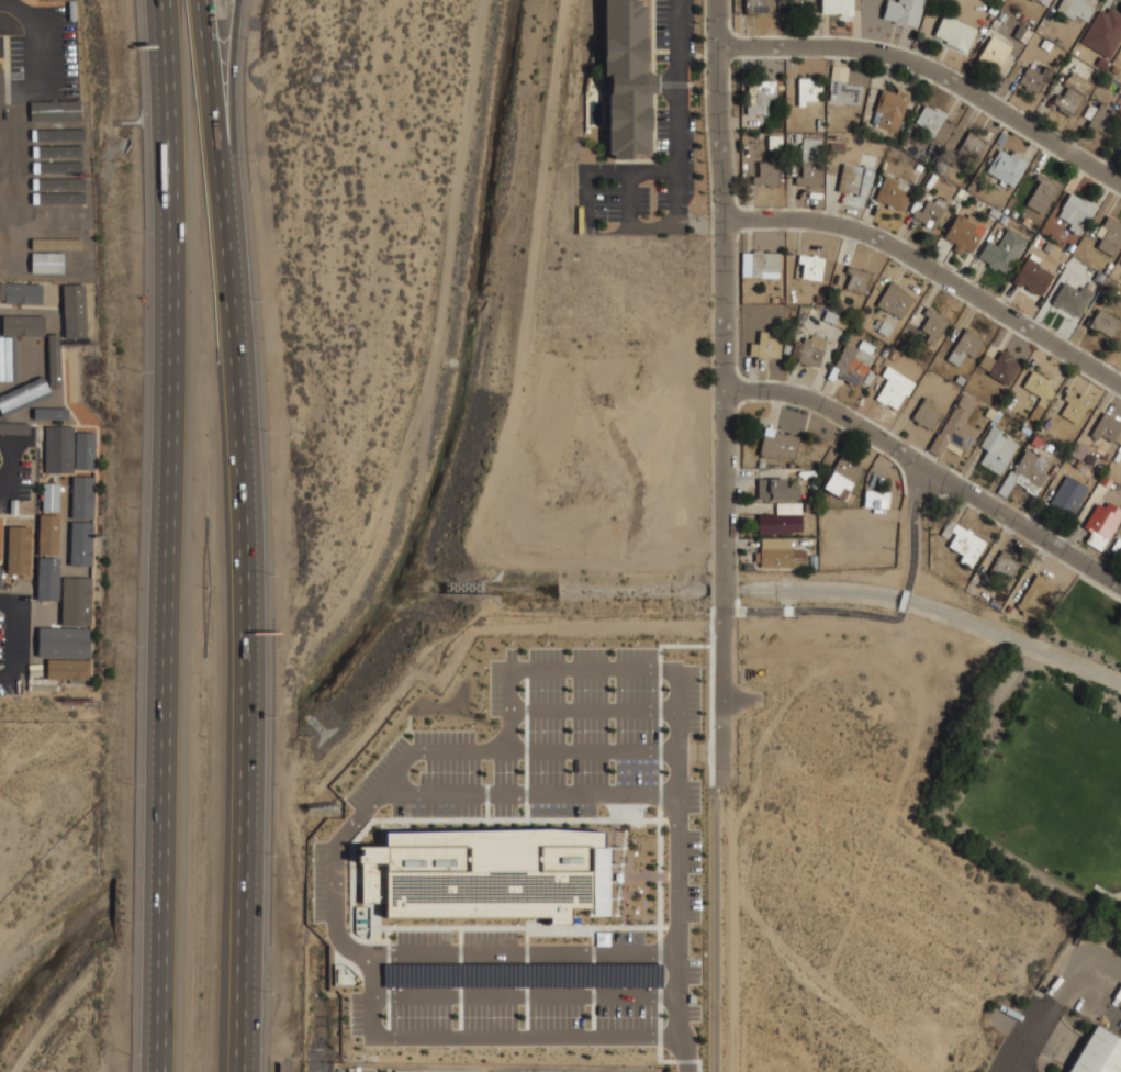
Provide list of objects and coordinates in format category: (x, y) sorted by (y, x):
building: (1032, 0)
building: (1036, 0)
building: (1044, 2)
building: (801, 5)
building: (758, 7)
building: (837, 7)
road: (22, 8)
building: (1076, 9)
building: (903, 11)
building: (1001, 16)
building: (1023, 18)
building: (1030, 22)
building: (955, 32)
building: (1103, 32)
building: (1021, 33)
building: (1058, 42)
building: (1045, 45)
building: (994, 53)
parking lot: (42, 55)
road: (45, 57)
building: (1101, 63)
building: (1114, 69)
road: (931, 71)
building: (839, 72)
building: (1096, 72)
building: (1034, 78)
building: (631, 79)
building: (57, 86)
road: (677, 86)
building: (1111, 86)
building: (808, 90)
building: (844, 92)
building: (1072, 94)
building: (760, 97)
building: (1120, 97)
road: (235, 104)
building: (52, 108)
building: (892, 108)
building: (1089, 111)
building: (1099, 121)
building: (819, 123)
building: (935, 125)
building: (58, 127)
building: (746, 130)
building: (988, 135)
building: (788, 137)
building: (1000, 138)
parking lot: (675, 139)
building: (52, 142)
building: (774, 142)
building: (972, 146)
building: (837, 148)
building: (52, 160)
building: (809, 161)
building: (918, 167)
building: (1006, 167)
road: (632, 172)
building: (766, 174)
building: (855, 179)
building: (53, 183)
building: (791, 183)
building: (893, 192)
building: (1042, 193)
building: (959, 194)
road: (587, 196)
road: (628, 199)
road: (679, 199)
building: (23, 202)
building: (58, 204)
building: (1006, 211)
building: (994, 212)
building: (1076, 212)
building: (930, 213)
building: (1013, 213)
building: (1002, 219)
building: (1025, 221)
building: (59, 224)
road: (653, 226)
building: (964, 232)
building: (1109, 236)
building: (0, 242)
building: (61, 243)
building: (1070, 246)
building: (24, 248)
building: (1002, 250)
building: (9, 252)
building: (760, 265)
building: (1109, 265)
building: (810, 266)
road: (931, 269)
building: (60, 271)
building: (1107, 271)
building: (1032, 276)
building: (1099, 278)
building: (856, 279)
road: (722, 291)
building: (24, 292)
building: (834, 292)
building: (818, 298)
building: (1072, 298)
building: (774, 300)
building: (781, 300)
building: (895, 300)
building: (53, 304)
building: (70, 312)
building: (834, 320)
building: (877, 322)
building: (1103, 322)
building: (933, 325)
building: (885, 328)
building: (11, 332)
building: (765, 346)
building: (965, 346)
building: (785, 348)
building: (809, 350)
building: (885, 350)
building: (893, 354)
building: (36, 357)
building: (986, 361)
building: (852, 362)
building: (1004, 367)
building: (875, 368)
building: (72, 378)
building: (867, 378)
building: (960, 379)
building: (894, 388)
road: (243, 389)
building: (1039, 392)
road: (709, 398)
building: (966, 402)
building: (996, 403)
building: (1073, 407)
building: (34, 410)
building: (989, 413)
building: (924, 414)
building: (1005, 416)
building: (995, 417)
building: (1106, 427)
building: (1025, 429)
road: (5, 432)
building: (954, 434)
building: (777, 444)
building: (59, 449)
building: (996, 449)
building: (86, 450)
building: (1117, 456)
building: (1088, 458)
building: (1069, 459)
road: (8, 464)
building: (761, 464)
building: (791, 465)
building: (1078, 465)
building: (1099, 467)
road: (929, 468)
building: (1054, 468)
building: (1030, 471)
building: (1051, 472)
building: (843, 477)
parking lot: (16, 479)
building: (1106, 481)
building: (1008, 483)
building: (812, 484)
building: (776, 489)
building: (83, 495)
building: (1068, 495)
building: (51, 496)
building: (811, 496)
building: (876, 499)
building: (66, 500)
building: (788, 507)
building: (808, 507)
building: (778, 523)
building: (1101, 524)
building: (48, 534)
road: (167, 535)
building: (69, 538)
road: (922, 541)
building: (963, 543)
building: (19, 549)
building: (1120, 550)
building: (777, 552)
building: (812, 561)
building: (1004, 567)
building: (0, 576)
building: (47, 577)
road: (1099, 587)
road: (722, 590)
building: (985, 594)
building: (1035, 594)
building: (77, 596)
road: (912, 604)
building: (996, 605)
building: (1008, 608)
road: (819, 612)
building: (46, 626)
building: (75, 656)
road: (721, 681)
road: (675, 689)
road: (845, 697)
road: (592, 708)
road: (508, 734)
road: (504, 750)
parking lot: (562, 751)
park: (1054, 760)
road: (526, 793)
road: (348, 827)
building: (489, 873)
parking lot: (327, 881)
road: (335, 881)
road: (248, 926)
road: (715, 930)
road: (677, 938)
road: (354, 949)
road: (569, 953)
road: (789, 953)
road: (1079, 971)
road: (370, 972)
building: (515, 976)
parking lot: (524, 991)
road: (525, 995)
road: (1040, 1027)
road: (503, 1035)
parking lot: (1035, 1039)
road: (684, 1047)
building: (1097, 1052)
road: (1013, 1059)
road: (1014, 1068)
parking lot: (360, 1070)
parking lot: (436, 1071)

